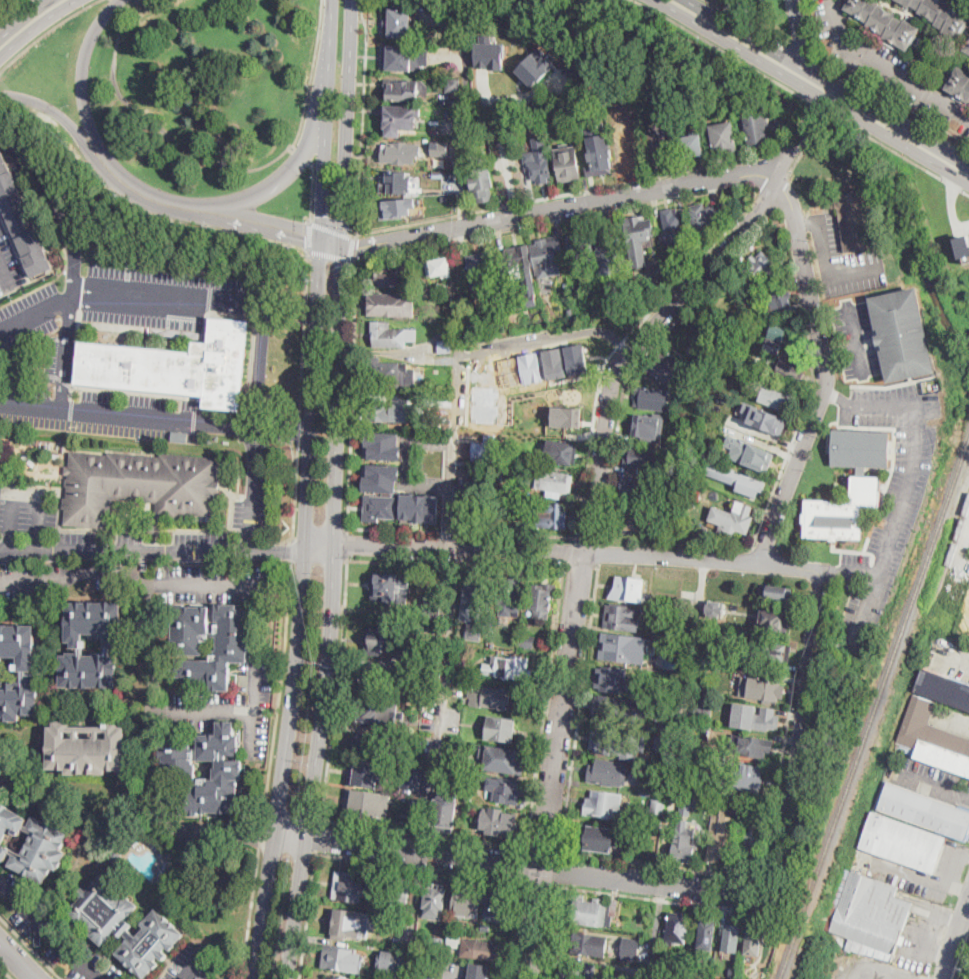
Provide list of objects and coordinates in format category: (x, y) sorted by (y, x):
road: (40, 4)
road: (116, 5)
road: (112, 6)
road: (122, 11)
building: (942, 16)
road: (24, 18)
building: (399, 21)
road: (747, 22)
building: (885, 22)
road: (119, 24)
road: (36, 25)
road: (46, 32)
road: (803, 37)
road: (719, 46)
building: (966, 48)
building: (490, 54)
road: (801, 54)
road: (329, 58)
building: (402, 58)
building: (535, 68)
road: (887, 69)
road: (311, 76)
building: (576, 80)
road: (826, 82)
building: (960, 84)
building: (453, 86)
building: (403, 91)
road: (812, 91)
road: (817, 104)
road: (893, 108)
road: (362, 118)
building: (401, 120)
road: (347, 124)
road: (163, 128)
building: (757, 132)
building: (724, 136)
road: (97, 139)
road: (82, 141)
road: (464, 141)
road: (501, 144)
road: (808, 145)
building: (692, 146)
building: (629, 147)
building: (659, 149)
building: (439, 150)
building: (401, 153)
road: (899, 153)
road: (302, 154)
building: (600, 158)
road: (270, 161)
building: (568, 163)
building: (538, 166)
building: (437, 175)
road: (280, 178)
road: (323, 179)
building: (396, 183)
building: (483, 184)
road: (312, 191)
road: (780, 193)
road: (567, 194)
road: (589, 203)
road: (58, 204)
building: (397, 208)
road: (189, 214)
traffic signals: (322, 215)
road: (265, 216)
building: (701, 218)
building: (855, 219)
building: (22, 221)
road: (559, 222)
road: (809, 222)
building: (674, 228)
road: (331, 229)
road: (271, 231)
building: (639, 231)
road: (331, 235)
road: (310, 236)
building: (606, 238)
traffic signals: (306, 240)
road: (371, 240)
traffic signals: (357, 243)
road: (331, 246)
road: (351, 246)
building: (582, 246)
building: (963, 246)
road: (372, 249)
road: (329, 255)
building: (547, 256)
parking lot: (843, 259)
building: (519, 262)
parking lot: (9, 263)
building: (607, 263)
traffic signals: (341, 265)
building: (762, 265)
building: (439, 268)
building: (480, 271)
road: (829, 272)
road: (4, 277)
building: (395, 277)
building: (443, 287)
parking lot: (168, 296)
road: (185, 296)
building: (613, 297)
building: (779, 298)
building: (391, 304)
building: (758, 309)
building: (570, 312)
parking lot: (29, 315)
road: (457, 333)
building: (777, 333)
building: (391, 335)
building: (902, 335)
road: (547, 337)
road: (856, 337)
parking lot: (856, 339)
road: (620, 342)
building: (445, 346)
building: (773, 346)
road: (838, 348)
road: (67, 350)
road: (646, 355)
parking lot: (58, 358)
building: (577, 358)
building: (555, 362)
building: (176, 365)
building: (667, 369)
building: (789, 370)
road: (822, 372)
building: (390, 373)
road: (353, 391)
building: (779, 398)
road: (840, 398)
building: (652, 399)
road: (299, 401)
building: (379, 411)
parking lot: (96, 412)
road: (126, 413)
building: (566, 416)
building: (765, 418)
building: (648, 426)
road: (281, 431)
road: (359, 433)
building: (180, 437)
road: (408, 437)
building: (31, 441)
building: (384, 442)
building: (861, 448)
building: (485, 449)
building: (749, 452)
building: (561, 453)
road: (360, 454)
building: (641, 457)
building: (8, 458)
road: (359, 465)
building: (478, 470)
building: (382, 475)
building: (499, 475)
road: (779, 477)
building: (677, 479)
building: (554, 483)
building: (748, 485)
road: (357, 486)
building: (138, 487)
road: (255, 488)
road: (28, 489)
building: (642, 489)
road: (904, 495)
parking lot: (888, 500)
building: (468, 501)
building: (496, 502)
road: (593, 503)
building: (420, 504)
building: (379, 505)
road: (357, 506)
building: (842, 512)
building: (552, 515)
road: (448, 517)
building: (732, 518)
building: (633, 519)
road: (422, 525)
road: (463, 533)
road: (0, 539)
road: (590, 541)
road: (347, 543)
road: (291, 548)
road: (152, 549)
railway: (953, 549)
road: (562, 550)
road: (573, 552)
road: (601, 553)
road: (457, 564)
road: (583, 566)
road: (848, 572)
parking lot: (212, 582)
road: (205, 588)
building: (384, 588)
building: (629, 588)
building: (782, 588)
building: (510, 596)
building: (475, 599)
building: (542, 599)
building: (789, 602)
building: (715, 608)
building: (432, 609)
road: (300, 612)
road: (330, 615)
building: (623, 617)
building: (780, 622)
building: (744, 626)
building: (474, 632)
building: (382, 638)
building: (684, 638)
building: (210, 640)
building: (527, 641)
building: (93, 644)
building: (492, 646)
building: (621, 648)
building: (769, 651)
parking lot: (949, 657)
road: (954, 663)
building: (703, 664)
building: (509, 668)
building: (18, 671)
road: (765, 673)
building: (611, 679)
road: (143, 687)
building: (943, 688)
road: (340, 689)
building: (765, 690)
road: (794, 690)
road: (281, 692)
building: (489, 696)
road: (441, 700)
building: (702, 702)
parking lot: (232, 705)
building: (611, 708)
railway: (874, 709)
road: (157, 710)
road: (239, 711)
building: (377, 712)
road: (787, 712)
building: (755, 716)
road: (684, 720)
building: (501, 729)
building: (668, 729)
building: (701, 732)
road: (797, 732)
road: (771, 735)
road: (787, 736)
building: (402, 738)
building: (932, 739)
road: (252, 740)
building: (611, 741)
building: (663, 742)
building: (370, 744)
building: (752, 745)
building: (88, 747)
building: (449, 760)
building: (505, 760)
building: (409, 767)
road: (19, 769)
building: (205, 769)
building: (368, 773)
building: (607, 774)
building: (742, 775)
building: (465, 776)
building: (413, 779)
building: (698, 779)
parking lot: (933, 780)
road: (934, 784)
building: (504, 790)
building: (655, 791)
road: (762, 792)
building: (415, 801)
building: (689, 804)
road: (565, 805)
building: (604, 805)
building: (365, 806)
building: (658, 806)
building: (734, 810)
building: (926, 810)
road: (532, 811)
building: (444, 815)
building: (684, 816)
building: (498, 822)
road: (318, 835)
building: (597, 838)
building: (718, 840)
building: (902, 842)
building: (31, 843)
building: (754, 846)
building: (683, 847)
road: (543, 852)
building: (652, 855)
building: (117, 860)
road: (526, 865)
road: (525, 866)
road: (557, 870)
parking lot: (892, 871)
road: (904, 872)
road: (949, 872)
road: (467, 874)
road: (539, 883)
building: (348, 886)
road: (4, 888)
building: (402, 890)
road: (618, 894)
road: (254, 901)
building: (433, 903)
building: (463, 903)
building: (497, 904)
building: (614, 908)
building: (587, 911)
road: (307, 913)
road: (413, 915)
building: (869, 915)
building: (348, 925)
building: (126, 926)
building: (677, 928)
building: (486, 929)
road: (655, 931)
road: (54, 933)
building: (707, 933)
building: (732, 936)
building: (455, 939)
building: (753, 940)
building: (586, 944)
road: (956, 944)
road: (30, 947)
building: (439, 947)
building: (630, 948)
building: (486, 950)
building: (395, 955)
building: (342, 958)
road: (19, 960)
building: (388, 961)
parking lot: (190, 963)
road: (194, 964)
building: (682, 966)
road: (875, 969)
building: (576, 970)
building: (478, 971)
building: (627, 971)
road: (5, 973)
building: (428, 974)
park: (3, 975)
building: (338, 977)
road: (449, 978)

